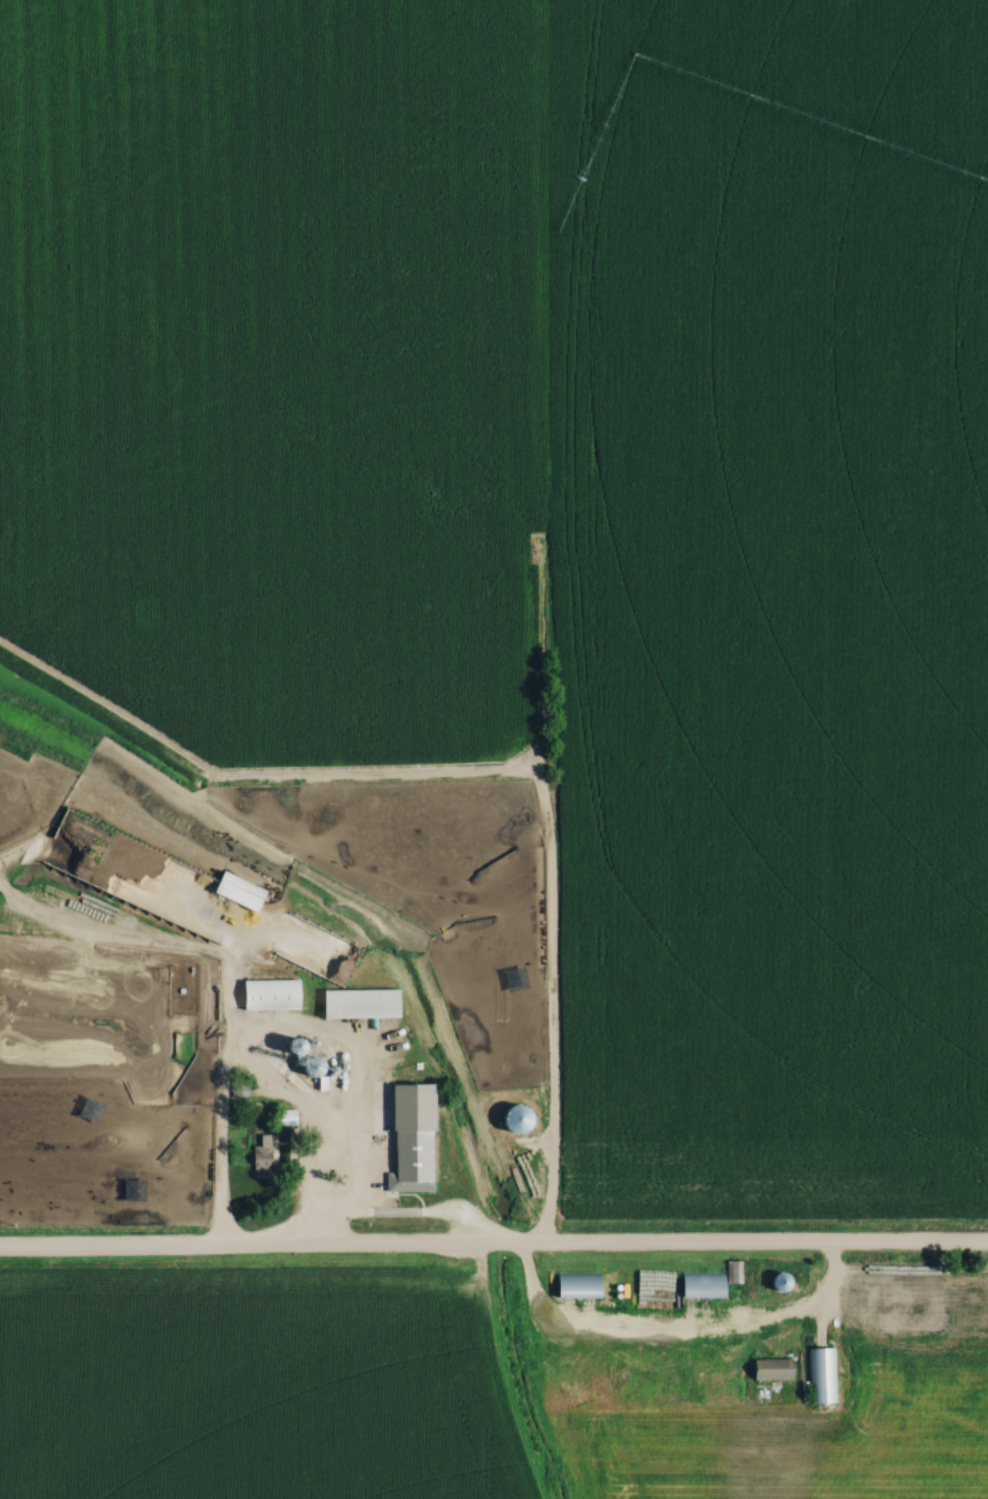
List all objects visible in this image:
building: (234, 892)
river: (325, 898)
building: (319, 956)
building: (267, 996)
building: (356, 1005)
building: (285, 1117)
building: (518, 1119)
building: (409, 1139)
building: (259, 1155)
road: (386, 1219)
river: (503, 1239)
road: (493, 1250)
building: (732, 1272)
building: (777, 1282)
building: (698, 1285)
building: (575, 1286)
building: (765, 1369)
building: (821, 1376)
river: (519, 1381)

